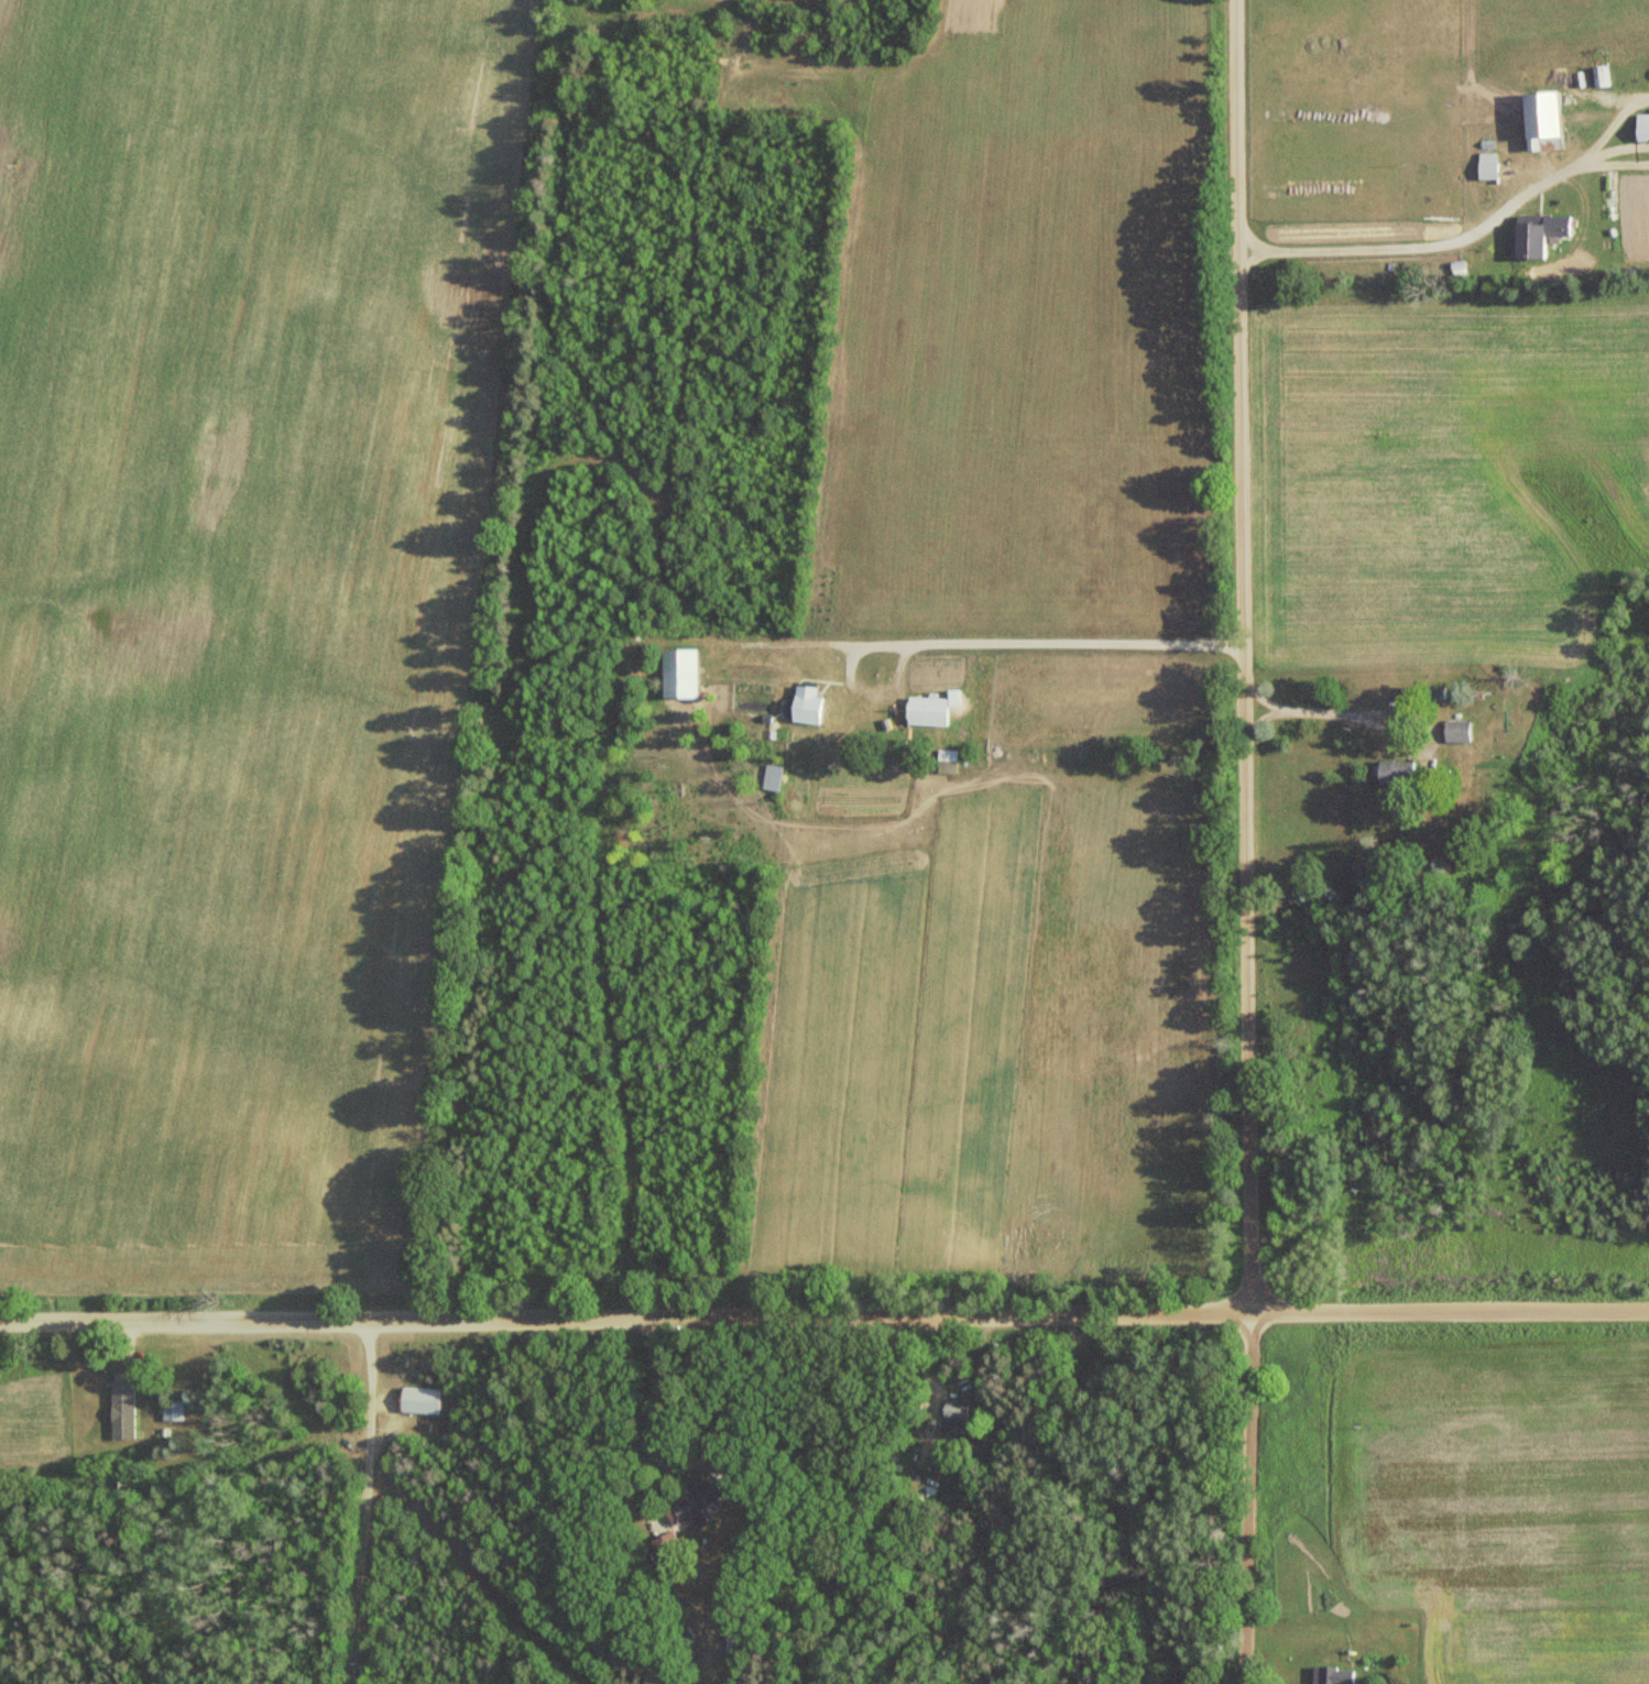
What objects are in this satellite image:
building: (1537, 113)
building: (1640, 127)
building: (1484, 166)
building: (1540, 227)
road: (1398, 251)
road: (1235, 656)
road: (1286, 710)
road: (1353, 717)
building: (1453, 732)
building: (1393, 774)
road: (825, 1317)
road: (653, 1386)
building: (418, 1402)
building: (120, 1411)
building: (950, 1411)
building: (171, 1412)
road: (1249, 1497)
building: (691, 1505)
building: (666, 1546)
building: (1332, 1675)

